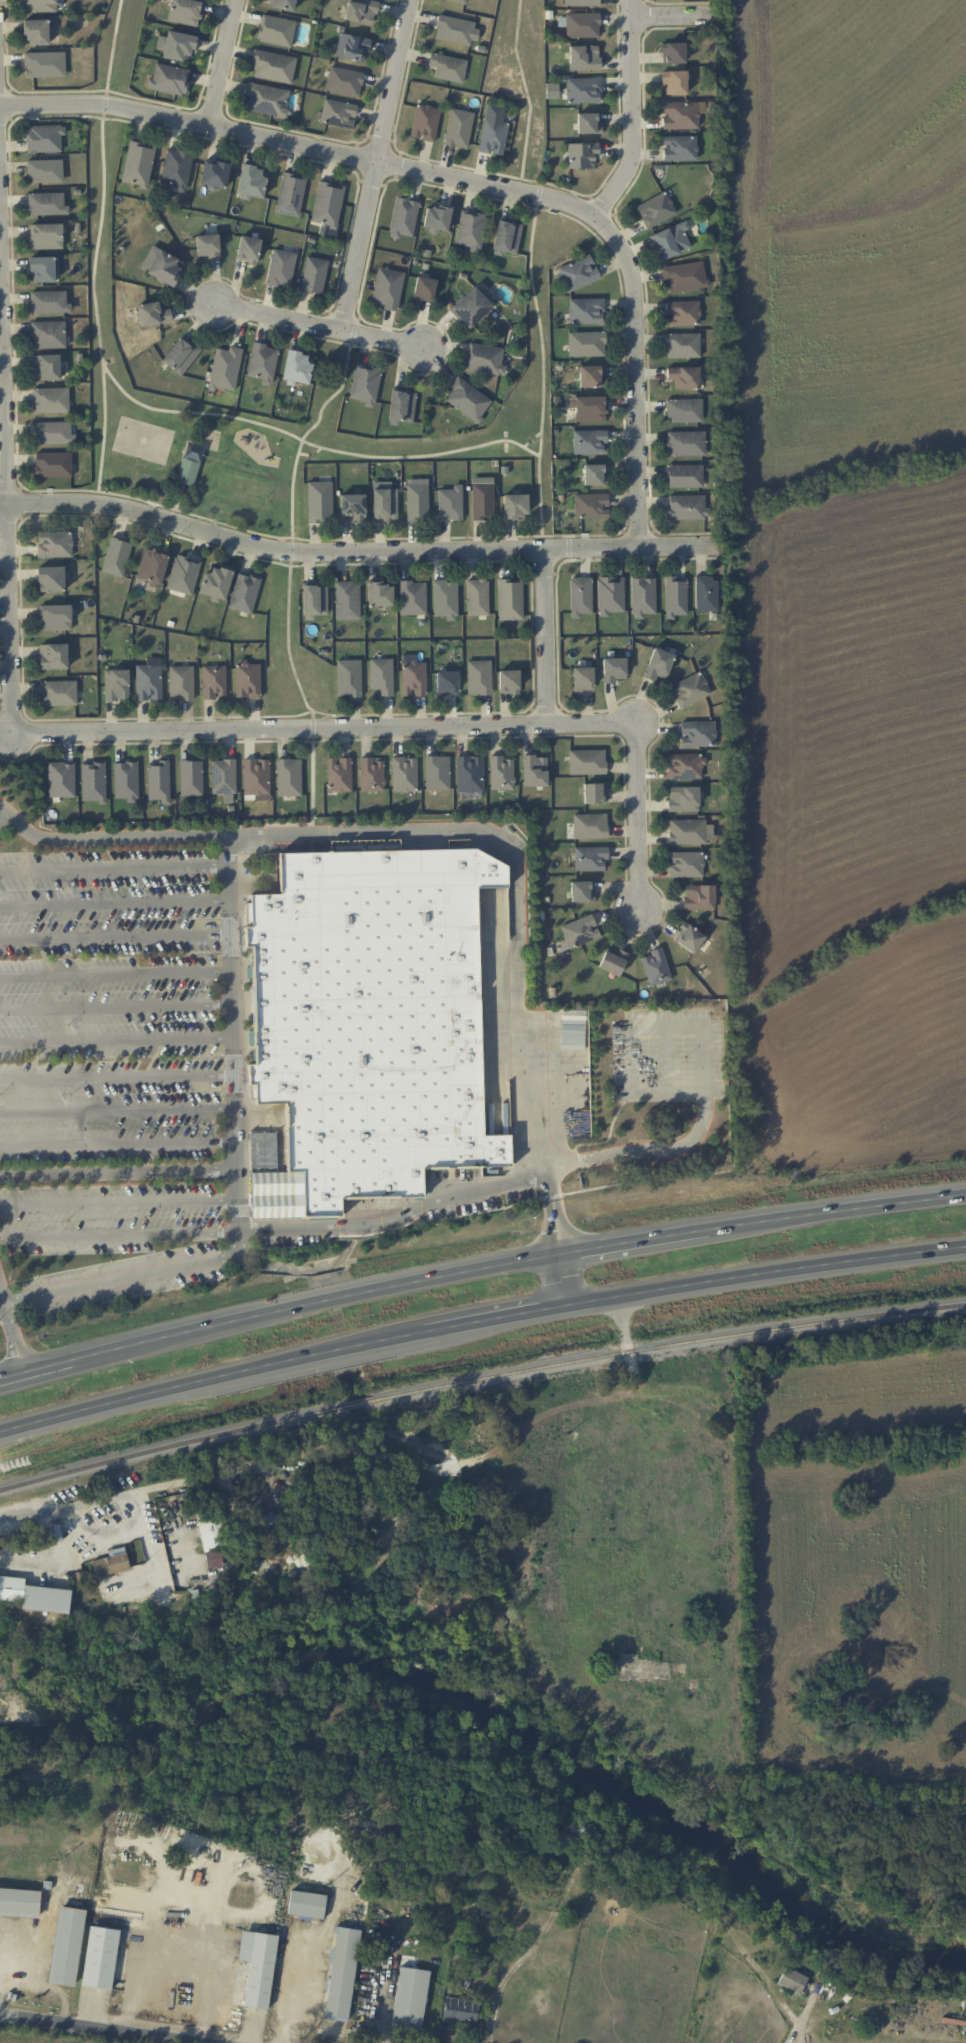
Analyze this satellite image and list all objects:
building: (458, 1)
building: (581, 2)
building: (282, 4)
building: (39, 5)
building: (185, 11)
building: (361, 11)
road: (668, 16)
building: (582, 24)
building: (276, 30)
building: (454, 30)
building: (37, 31)
building: (176, 46)
building: (352, 47)
building: (673, 52)
building: (584, 57)
building: (45, 64)
road: (212, 65)
building: (273, 66)
building: (448, 67)
building: (169, 78)
building: (344, 81)
building: (674, 81)
building: (583, 90)
building: (267, 99)
building: (338, 113)
building: (680, 115)
road: (628, 117)
building: (425, 122)
building: (588, 123)
building: (458, 128)
building: (493, 130)
building: (44, 138)
building: (679, 147)
building: (582, 154)
building: (138, 163)
road: (376, 167)
building: (176, 168)
building: (45, 171)
building: (214, 173)
building: (252, 181)
road: (463, 184)
building: (290, 194)
building: (327, 203)
building: (47, 204)
building: (655, 209)
building: (404, 216)
building: (437, 218)
building: (470, 230)
building: (46, 236)
building: (507, 236)
building: (670, 240)
building: (208, 246)
building: (248, 249)
building: (166, 267)
building: (281, 268)
building: (43, 269)
building: (577, 274)
building: (314, 275)
building: (684, 276)
building: (388, 288)
building: (424, 289)
building: (49, 302)
building: (471, 307)
building: (586, 311)
building: (153, 313)
building: (682, 313)
road: (308, 328)
building: (48, 334)
building: (586, 343)
building: (682, 345)
building: (181, 354)
building: (485, 358)
building: (262, 362)
building: (297, 366)
building: (46, 367)
building: (225, 368)
building: (591, 376)
building: (684, 377)
building: (365, 384)
building: (468, 399)
building: (51, 400)
building: (402, 405)
building: (590, 409)
building: (684, 410)
building: (53, 432)
building: (589, 441)
building: (686, 443)
building: (53, 464)
building: (187, 471)
building: (595, 474)
building: (685, 476)
building: (482, 498)
building: (319, 501)
building: (417, 502)
building: (450, 503)
road: (3, 504)
building: (385, 504)
building: (515, 505)
building: (591, 505)
building: (687, 507)
building: (352, 508)
building: (54, 544)
road: (352, 554)
building: (116, 557)
building: (152, 565)
building: (183, 574)
building: (50, 579)
building: (215, 582)
building: (244, 592)
building: (706, 593)
building: (380, 594)
building: (610, 595)
building: (643, 595)
building: (580, 596)
building: (675, 596)
building: (412, 597)
building: (477, 597)
building: (510, 598)
building: (445, 599)
building: (314, 600)
building: (347, 600)
building: (55, 617)
road: (539, 640)
building: (53, 656)
building: (658, 664)
building: (613, 669)
building: (381, 675)
building: (348, 677)
building: (479, 677)
building: (413, 678)
building: (582, 678)
building: (248, 679)
building: (213, 681)
building: (508, 681)
building: (148, 682)
building: (181, 682)
building: (446, 683)
building: (116, 684)
building: (690, 689)
building: (59, 692)
road: (167, 732)
building: (698, 733)
building: (587, 761)
building: (685, 766)
building: (534, 771)
building: (437, 772)
building: (501, 773)
building: (339, 774)
building: (371, 774)
building: (404, 774)
building: (469, 774)
building: (223, 776)
building: (256, 776)
building: (191, 777)
building: (288, 777)
building: (61, 779)
building: (125, 780)
building: (93, 781)
building: (158, 781)
building: (594, 793)
building: (683, 798)
building: (590, 825)
building: (690, 831)
road: (488, 833)
building: (590, 858)
building: (686, 864)
road: (113, 867)
building: (582, 891)
building: (699, 897)
road: (114, 904)
building: (579, 931)
road: (114, 937)
building: (689, 938)
building: (613, 961)
building: (656, 967)
road: (115, 973)
road: (116, 1007)
building: (377, 1025)
road: (116, 1041)
parking lot: (119, 1073)
road: (117, 1079)
road: (117, 1111)
road: (118, 1145)
road: (237, 1164)
road: (119, 1173)
road: (524, 1175)
road: (119, 1201)
road: (120, 1236)
road: (516, 1260)
road: (479, 1322)
road: (11, 1335)
road: (36, 1368)
railway: (479, 1380)
road: (158, 1490)
building: (269, 1519)
road: (112, 1530)
building: (212, 1532)
road: (390, 1536)
building: (213, 1558)
road: (29, 1561)
building: (109, 1564)
building: (34, 1595)
building: (19, 1902)
building: (306, 1904)
road: (0, 1941)
building: (66, 1946)
building: (100, 1957)
building: (258, 1966)
building: (342, 1973)
building: (792, 1980)
building: (410, 1999)
building: (460, 2011)
road: (99, 2028)
crop: (12, 2041)

